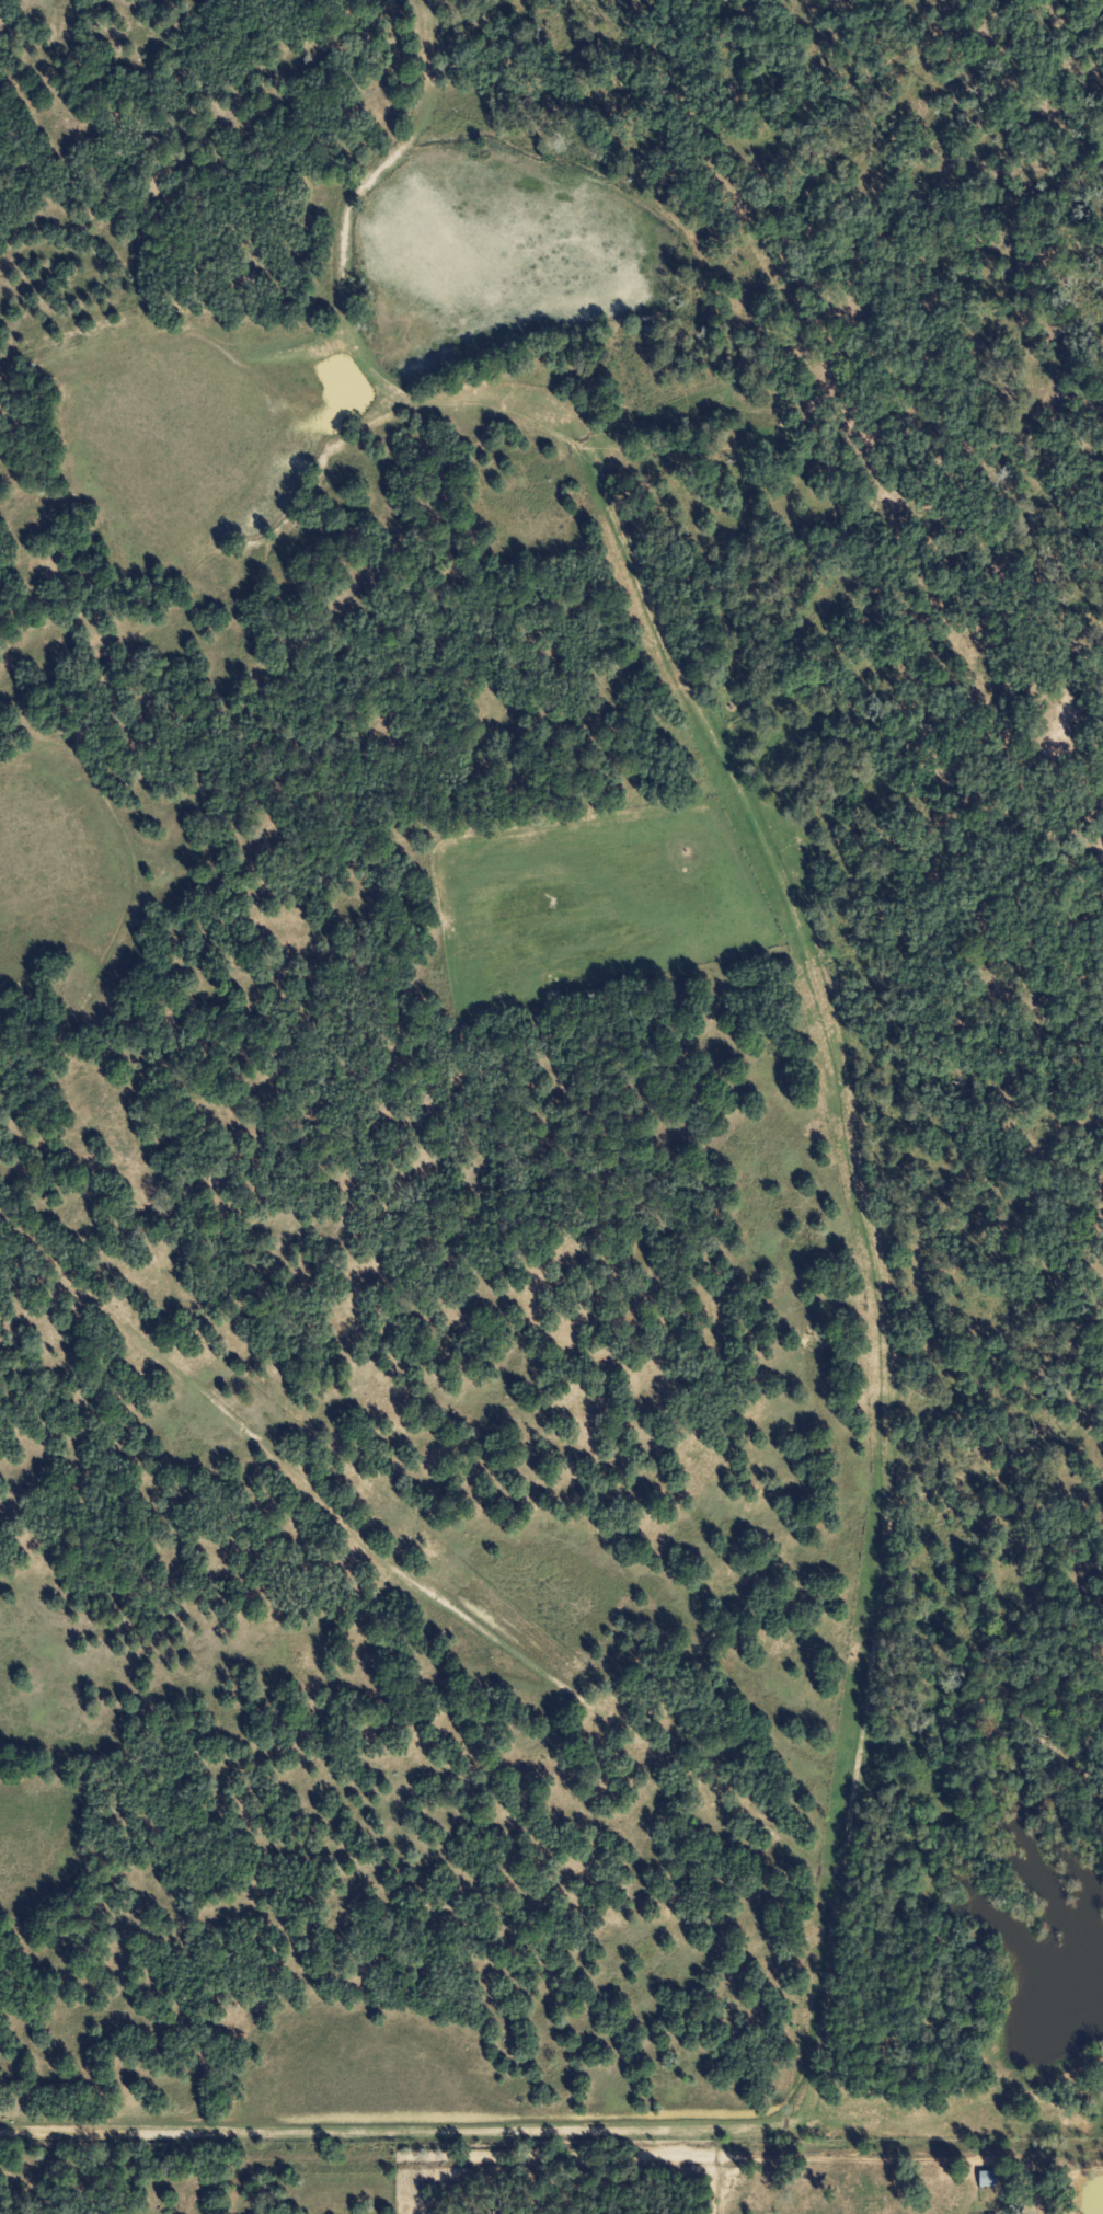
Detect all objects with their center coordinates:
building: (986, 2177)

